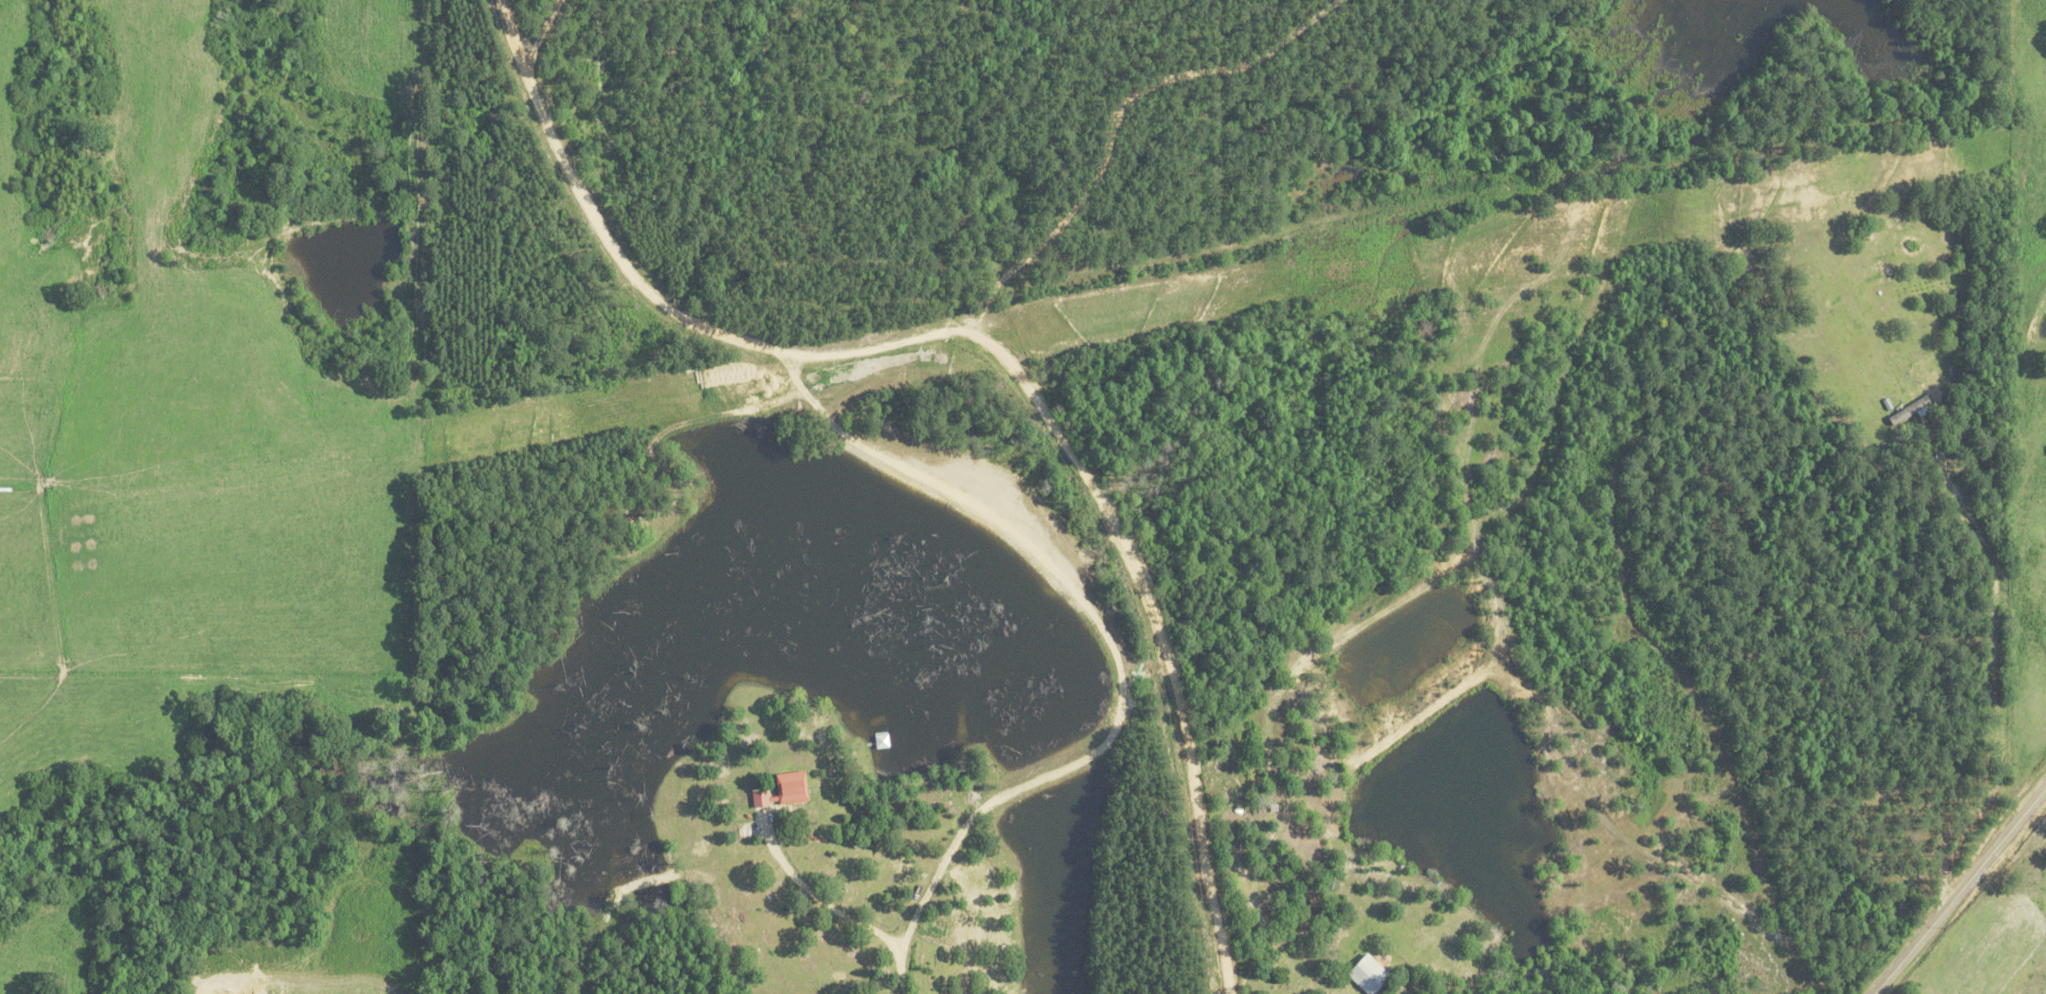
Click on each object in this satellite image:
road: (994, 349)
building: (1909, 411)
building: (780, 789)
road: (1958, 889)
building: (1363, 974)

